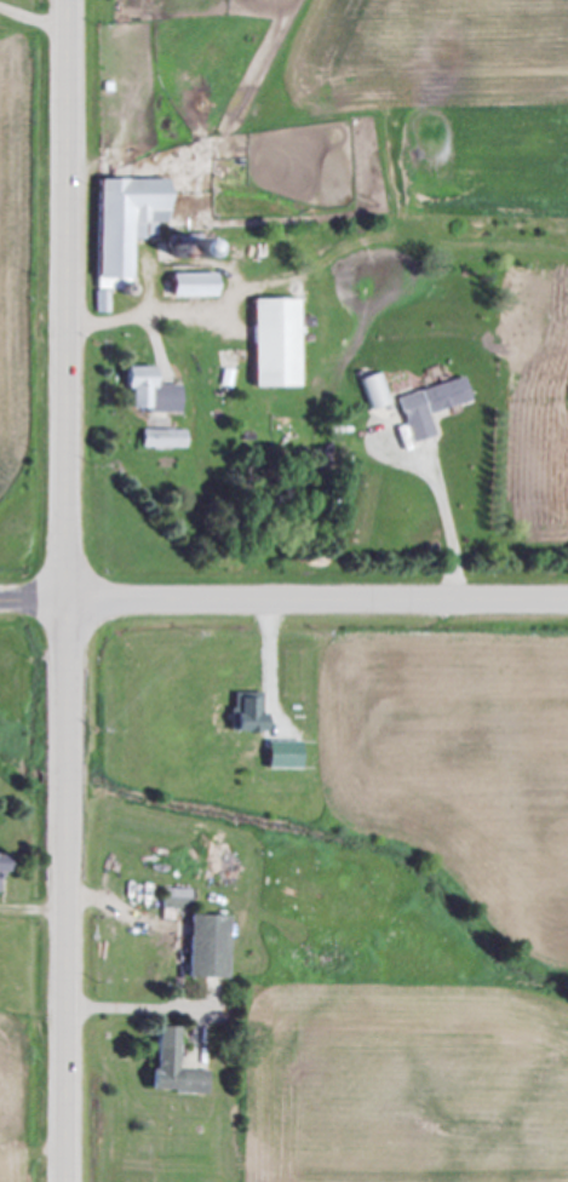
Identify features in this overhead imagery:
road: (33, 18)
building: (116, 220)
building: (132, 233)
building: (187, 286)
building: (98, 303)
road: (149, 312)
building: (269, 344)
building: (224, 379)
building: (143, 391)
building: (371, 391)
building: (566, 396)
building: (423, 407)
building: (159, 440)
road: (451, 528)
road: (65, 591)
road: (283, 598)
road: (266, 636)
building: (242, 715)
building: (276, 756)
building: (170, 899)
road: (116, 906)
building: (199, 948)
road: (132, 1009)
building: (165, 1068)

